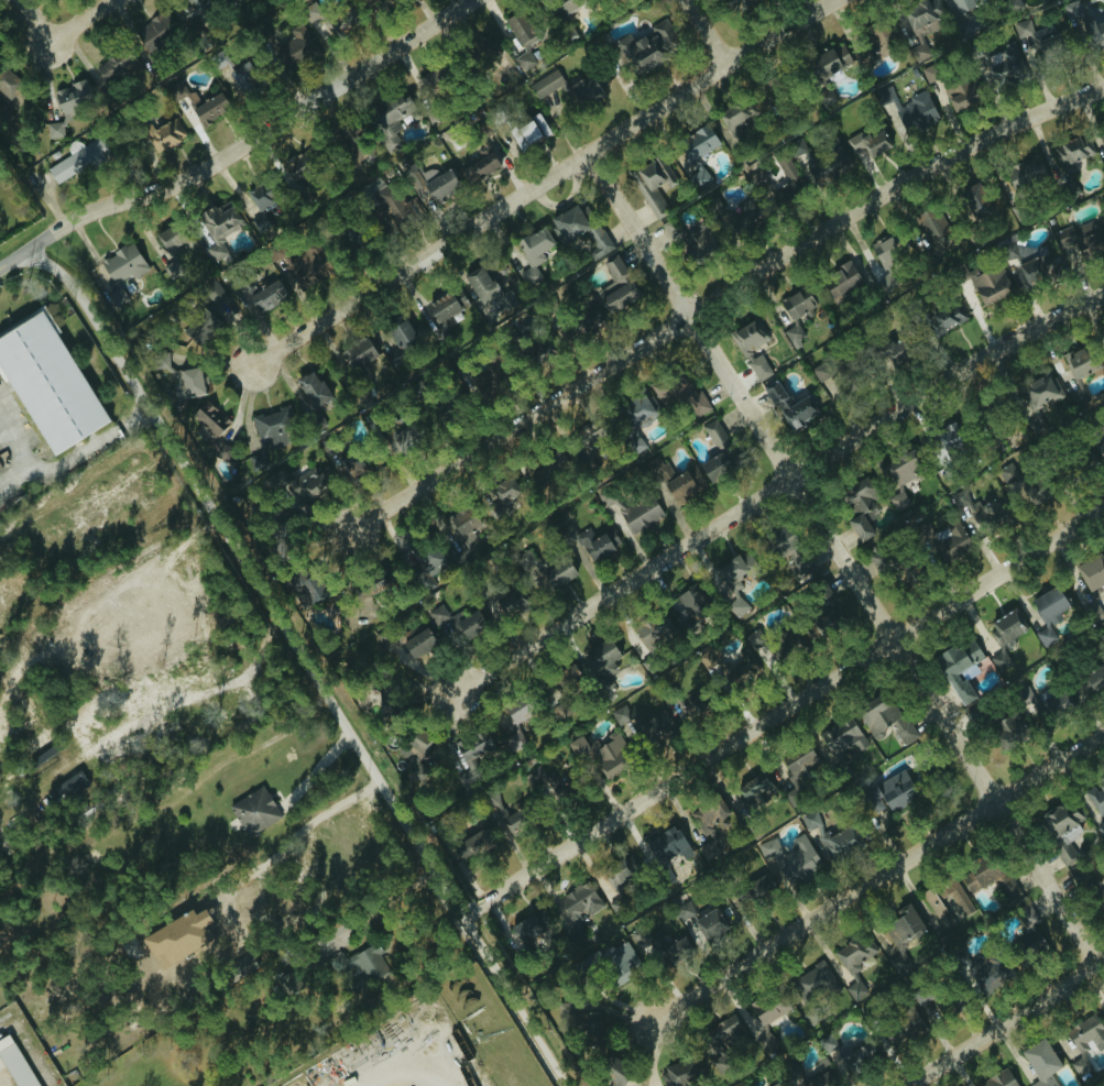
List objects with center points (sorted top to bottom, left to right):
building: (365, 2)
building: (735, 3)
building: (962, 3)
building: (195, 11)
road: (35, 21)
road: (81, 21)
building: (1082, 25)
building: (918, 29)
building: (514, 31)
road: (706, 31)
building: (154, 32)
building: (1037, 39)
building: (292, 47)
building: (643, 48)
building: (485, 51)
building: (845, 57)
building: (999, 66)
building: (116, 67)
building: (242, 78)
building: (8, 86)
building: (565, 89)
building: (961, 95)
building: (824, 98)
building: (198, 102)
building: (68, 105)
building: (916, 113)
building: (389, 119)
building: (733, 121)
building: (1103, 129)
building: (526, 131)
building: (163, 134)
road: (255, 136)
building: (1103, 138)
building: (696, 143)
building: (863, 144)
building: (795, 149)
building: (76, 160)
building: (1068, 162)
building: (478, 166)
building: (818, 168)
building: (293, 172)
building: (784, 177)
building: (697, 179)
building: (425, 180)
road: (548, 182)
building: (648, 185)
building: (258, 196)
building: (974, 200)
building: (397, 206)
building: (748, 215)
building: (261, 220)
building: (566, 222)
building: (216, 229)
building: (673, 230)
building: (933, 230)
building: (1081, 238)
building: (704, 241)
building: (589, 242)
building: (170, 250)
building: (532, 252)
road: (14, 256)
building: (885, 261)
building: (303, 264)
building: (1040, 266)
building: (116, 274)
building: (839, 282)
building: (990, 284)
building: (615, 285)
building: (485, 287)
building: (262, 294)
road: (720, 296)
building: (458, 298)
building: (796, 303)
building: (440, 306)
building: (949, 315)
building: (589, 317)
building: (441, 329)
building: (793, 333)
building: (398, 341)
building: (751, 347)
building: (892, 352)
building: (356, 353)
building: (1081, 360)
building: (159, 361)
building: (45, 384)
building: (186, 384)
building: (310, 388)
building: (1038, 390)
building: (678, 394)
building: (787, 408)
building: (633, 419)
building: (209, 424)
building: (1035, 425)
building: (272, 427)
building: (714, 435)
building: (1103, 436)
building: (948, 437)
building: (331, 452)
road: (68, 461)
building: (349, 464)
building: (547, 464)
building: (252, 465)
building: (713, 465)
road: (13, 471)
building: (1007, 473)
building: (899, 476)
building: (675, 481)
building: (298, 485)
road: (775, 487)
building: (502, 500)
building: (975, 511)
building: (861, 513)
building: (640, 514)
building: (458, 525)
building: (941, 540)
building: (598, 544)
building: (787, 551)
road: (844, 559)
building: (888, 562)
building: (554, 573)
building: (1092, 573)
building: (302, 588)
building: (815, 593)
building: (687, 596)
building: (511, 603)
building: (736, 605)
building: (1048, 612)
building: (456, 622)
building: (652, 628)
building: (1102, 636)
building: (414, 641)
building: (787, 643)
building: (617, 646)
building: (600, 658)
road: (305, 659)
building: (999, 661)
building: (730, 663)
building: (957, 667)
building: (1086, 684)
building: (1021, 695)
building: (385, 701)
building: (1051, 709)
building: (514, 711)
road: (783, 711)
building: (620, 715)
building: (883, 716)
building: (652, 725)
building: (1005, 728)
building: (840, 739)
building: (413, 741)
building: (471, 748)
building: (600, 754)
building: (798, 763)
road: (315, 766)
building: (538, 779)
building: (66, 788)
building: (754, 791)
building: (895, 791)
building: (1096, 797)
building: (252, 811)
building: (501, 816)
building: (707, 825)
building: (1100, 827)
building: (1061, 830)
building: (828, 838)
building: (476, 842)
building: (668, 852)
road: (270, 857)
building: (791, 859)
building: (619, 870)
road: (879, 876)
building: (986, 876)
building: (1090, 886)
building: (752, 891)
building: (954, 895)
road: (381, 903)
building: (576, 906)
building: (684, 911)
building: (1028, 914)
building: (707, 926)
building: (533, 932)
building: (901, 936)
building: (177, 937)
building: (659, 944)
building: (1028, 951)
building: (617, 962)
building: (360, 963)
building: (854, 964)
building: (240, 966)
building: (987, 974)
building: (288, 979)
building: (813, 983)
building: (769, 1010)
road: (1005, 1022)
building: (900, 1028)
building: (725, 1032)
building: (764, 1041)
building: (1084, 1041)
building: (853, 1054)
building: (17, 1061)
building: (1040, 1063)
building: (679, 1073)
building: (800, 1077)
building: (998, 1079)
building: (621, 1080)
building: (753, 1085)

